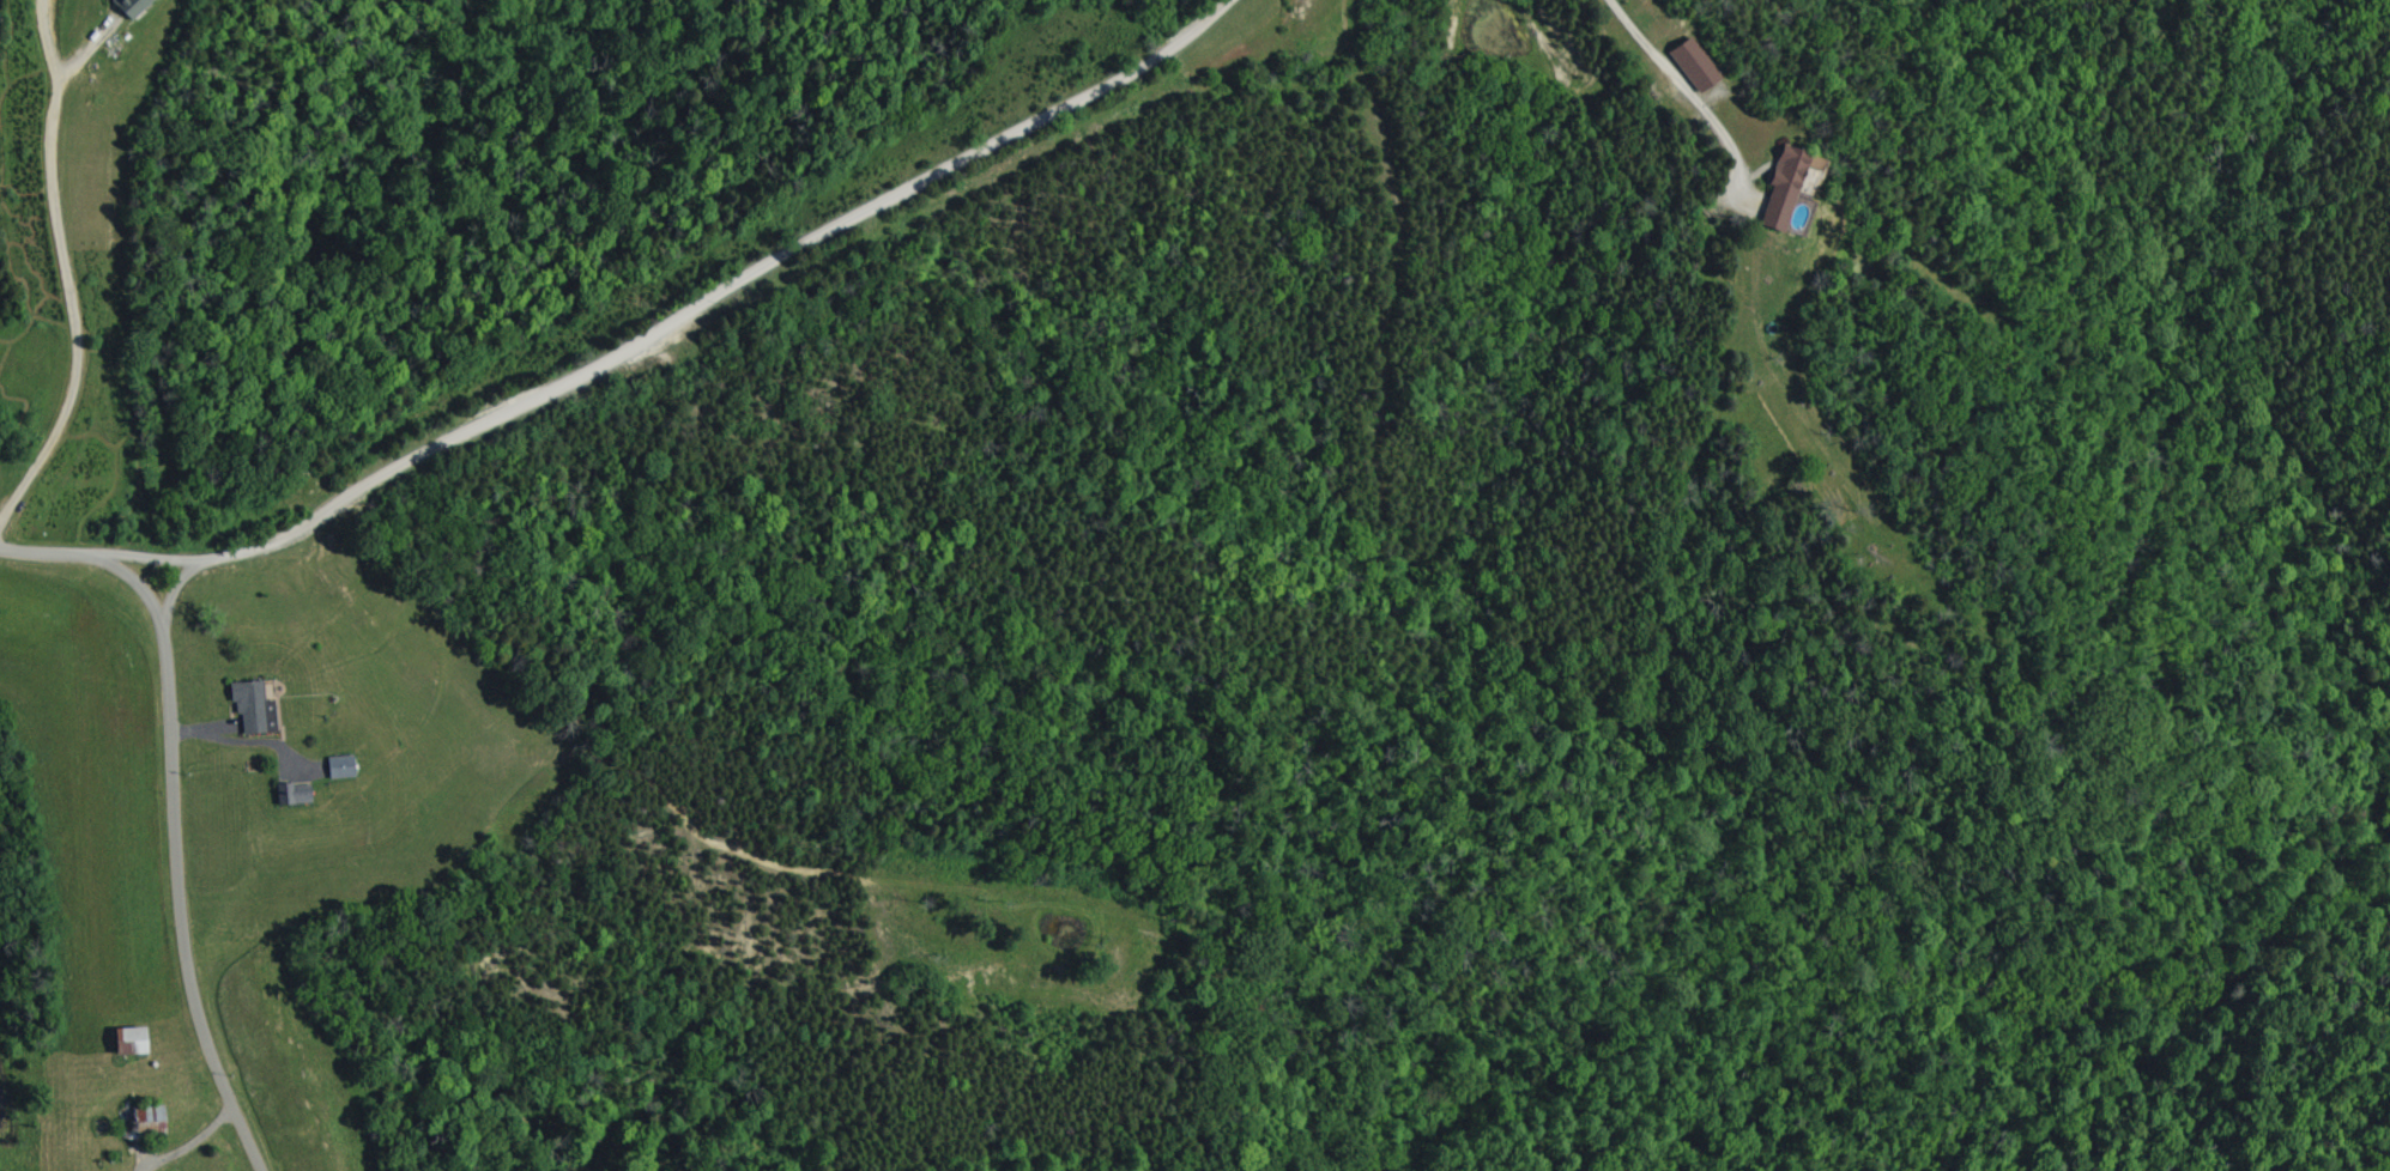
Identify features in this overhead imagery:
building: (132, 6)
building: (1687, 65)
building: (1777, 189)
road: (68, 275)
road: (708, 351)
road: (177, 599)
building: (255, 706)
building: (344, 765)
road: (176, 809)
road: (199, 1149)

